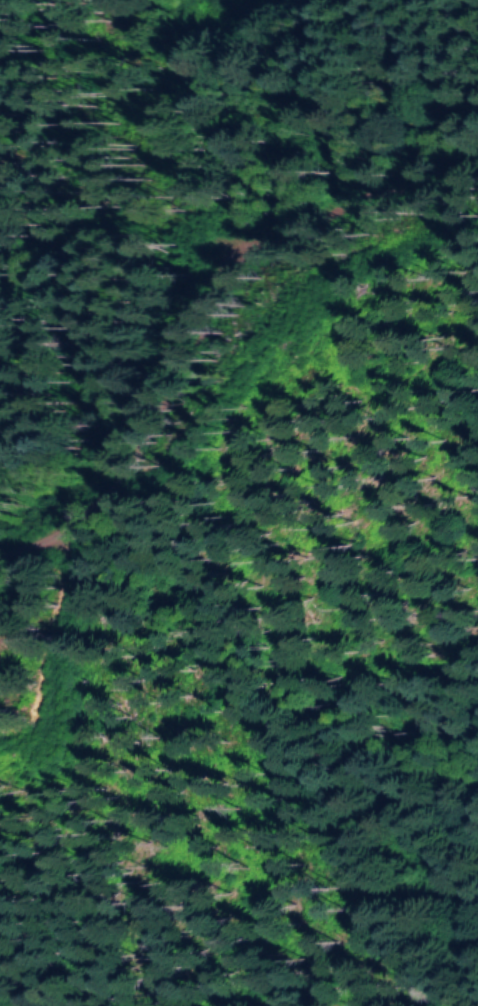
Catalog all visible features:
road: (209, 352)

